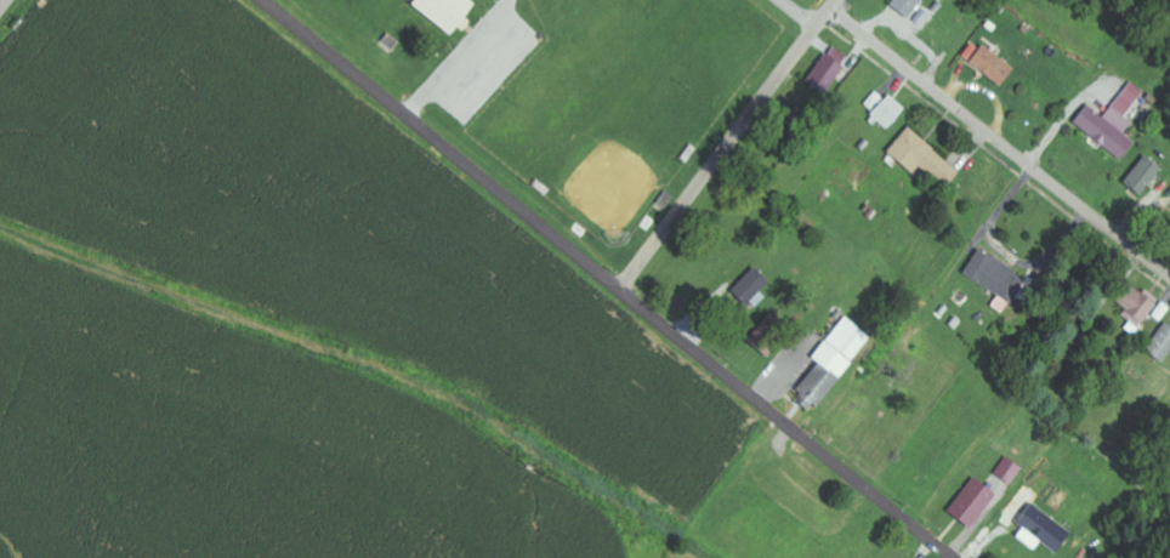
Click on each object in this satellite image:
road: (2, 2)
road: (835, 5)
building: (909, 6)
building: (450, 12)
road: (797, 13)
road: (824, 18)
building: (990, 62)
building: (831, 69)
building: (886, 110)
building: (1113, 123)
road: (1000, 146)
building: (922, 154)
road: (720, 158)
building: (1146, 175)
building: (999, 279)
road: (612, 280)
building: (755, 285)
building: (774, 334)
building: (1163, 345)
building: (835, 363)
building: (1011, 471)
building: (976, 502)
building: (1047, 528)
building: (1034, 539)

